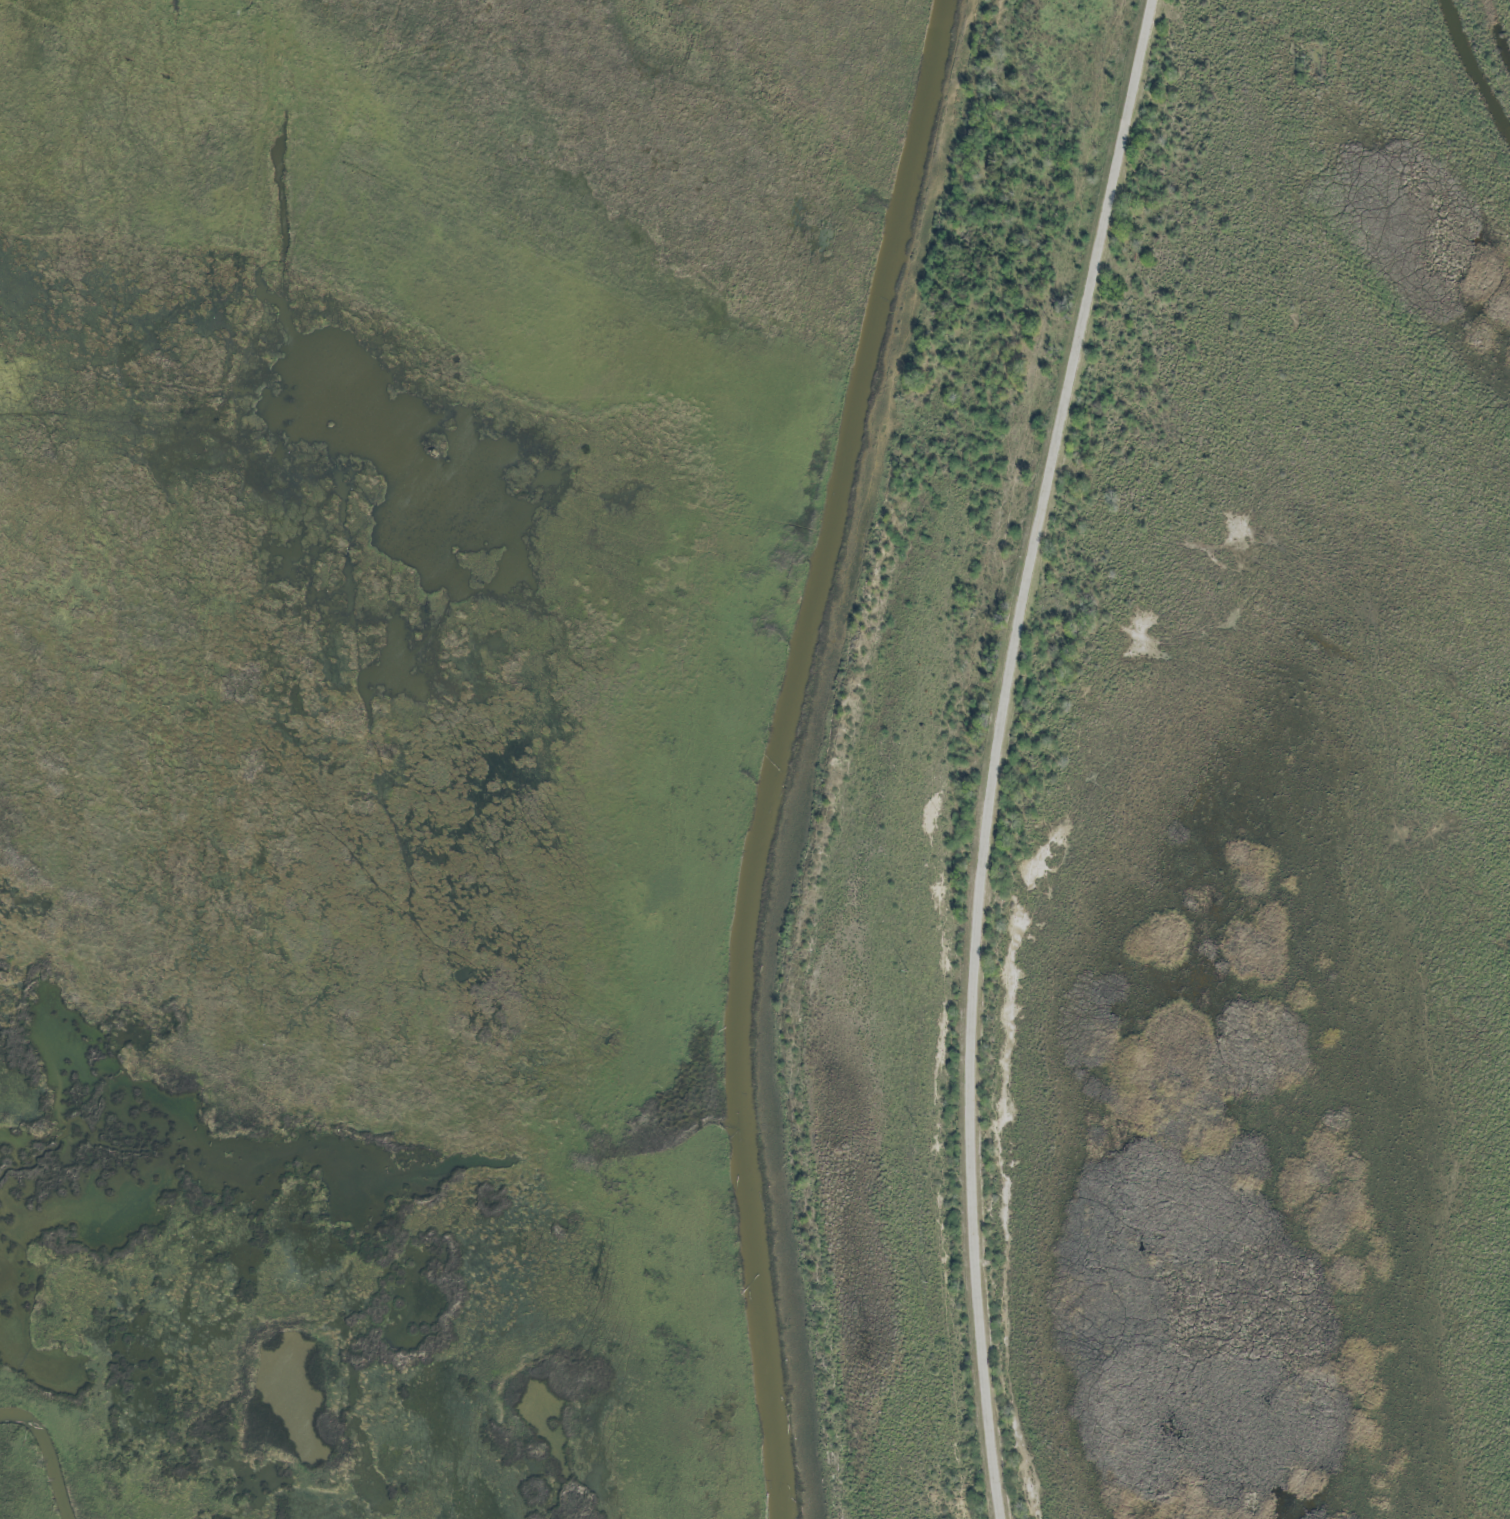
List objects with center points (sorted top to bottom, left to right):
road: (1001, 752)

